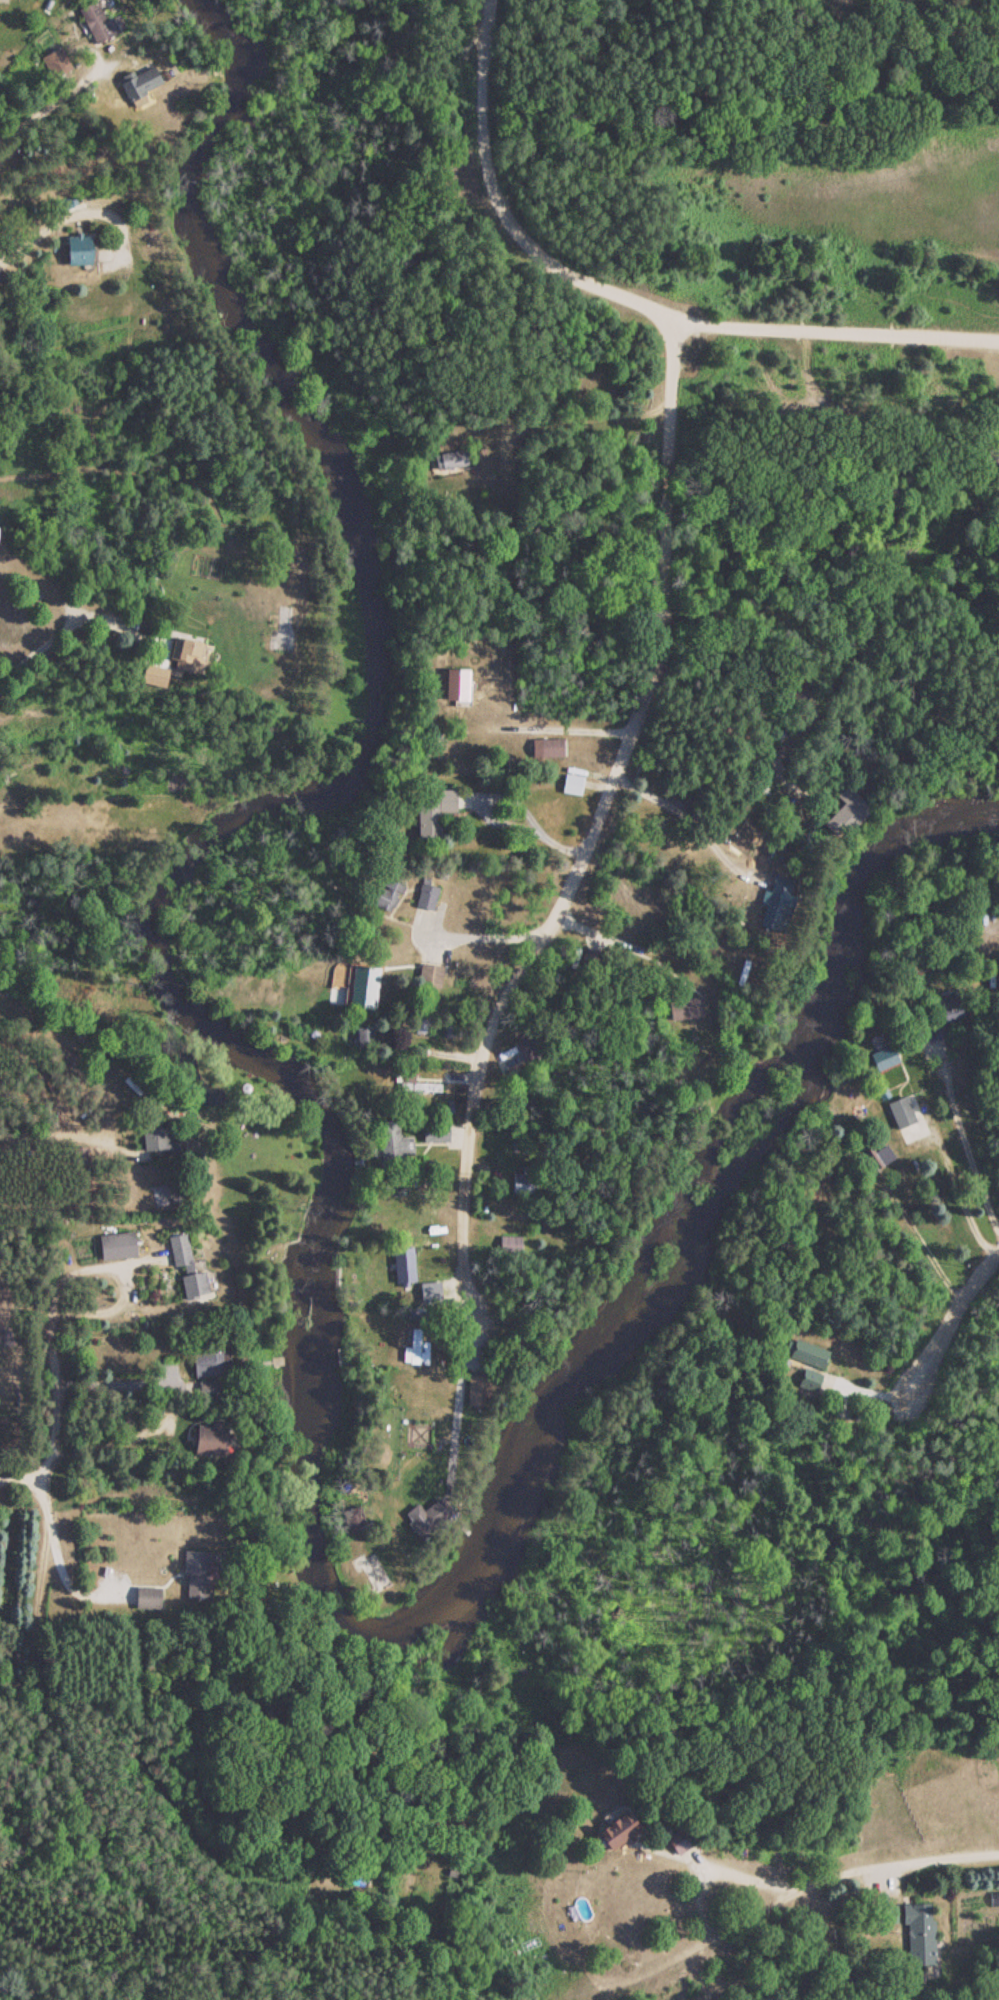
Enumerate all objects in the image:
building: (94, 22)
building: (55, 63)
building: (139, 87)
road: (52, 99)
road: (72, 214)
building: (77, 248)
road: (633, 295)
road: (563, 412)
building: (448, 458)
building: (282, 627)
building: (184, 653)
building: (548, 748)
building: (570, 780)
building: (844, 814)
road: (594, 824)
building: (424, 896)
building: (775, 904)
building: (429, 975)
building: (358, 986)
building: (947, 1006)
building: (360, 1036)
building: (516, 1054)
building: (883, 1057)
building: (903, 1119)
building: (433, 1133)
building: (155, 1138)
building: (165, 1193)
river: (320, 1213)
building: (115, 1246)
building: (186, 1271)
road: (943, 1291)
building: (410, 1346)
building: (208, 1364)
building: (475, 1390)
building: (208, 1439)
road: (18, 1448)
road: (37, 1464)
building: (426, 1517)
building: (194, 1574)
building: (146, 1597)
building: (615, 1832)
road: (918, 1833)
building: (680, 1840)
road: (354, 1908)
building: (918, 1933)
road: (759, 1935)

